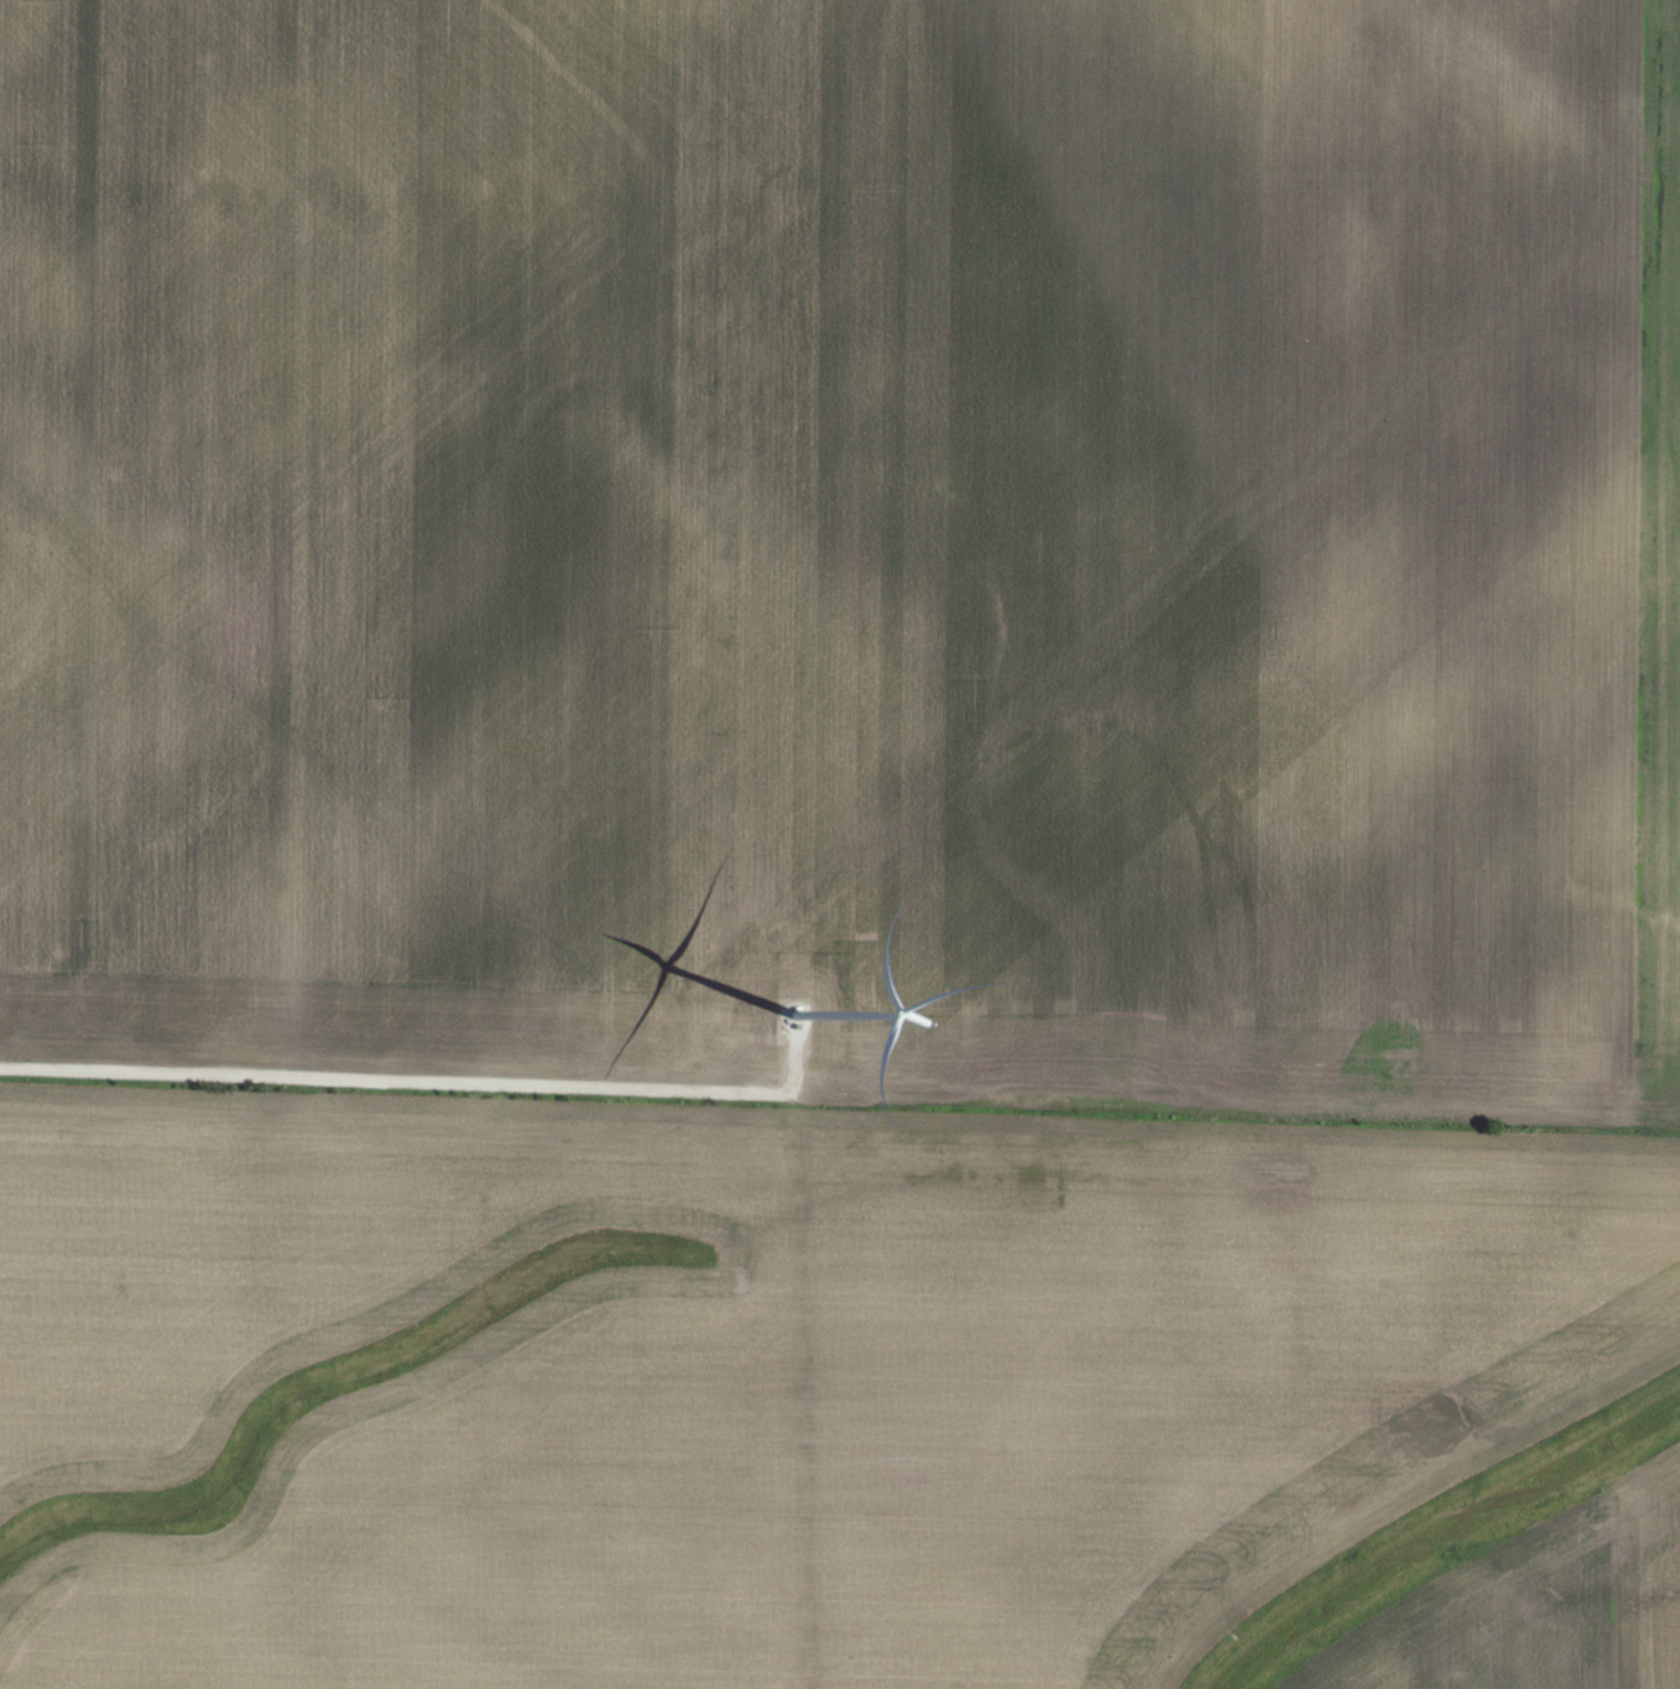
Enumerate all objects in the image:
wind turbine: (794, 1025)
road: (420, 1083)

